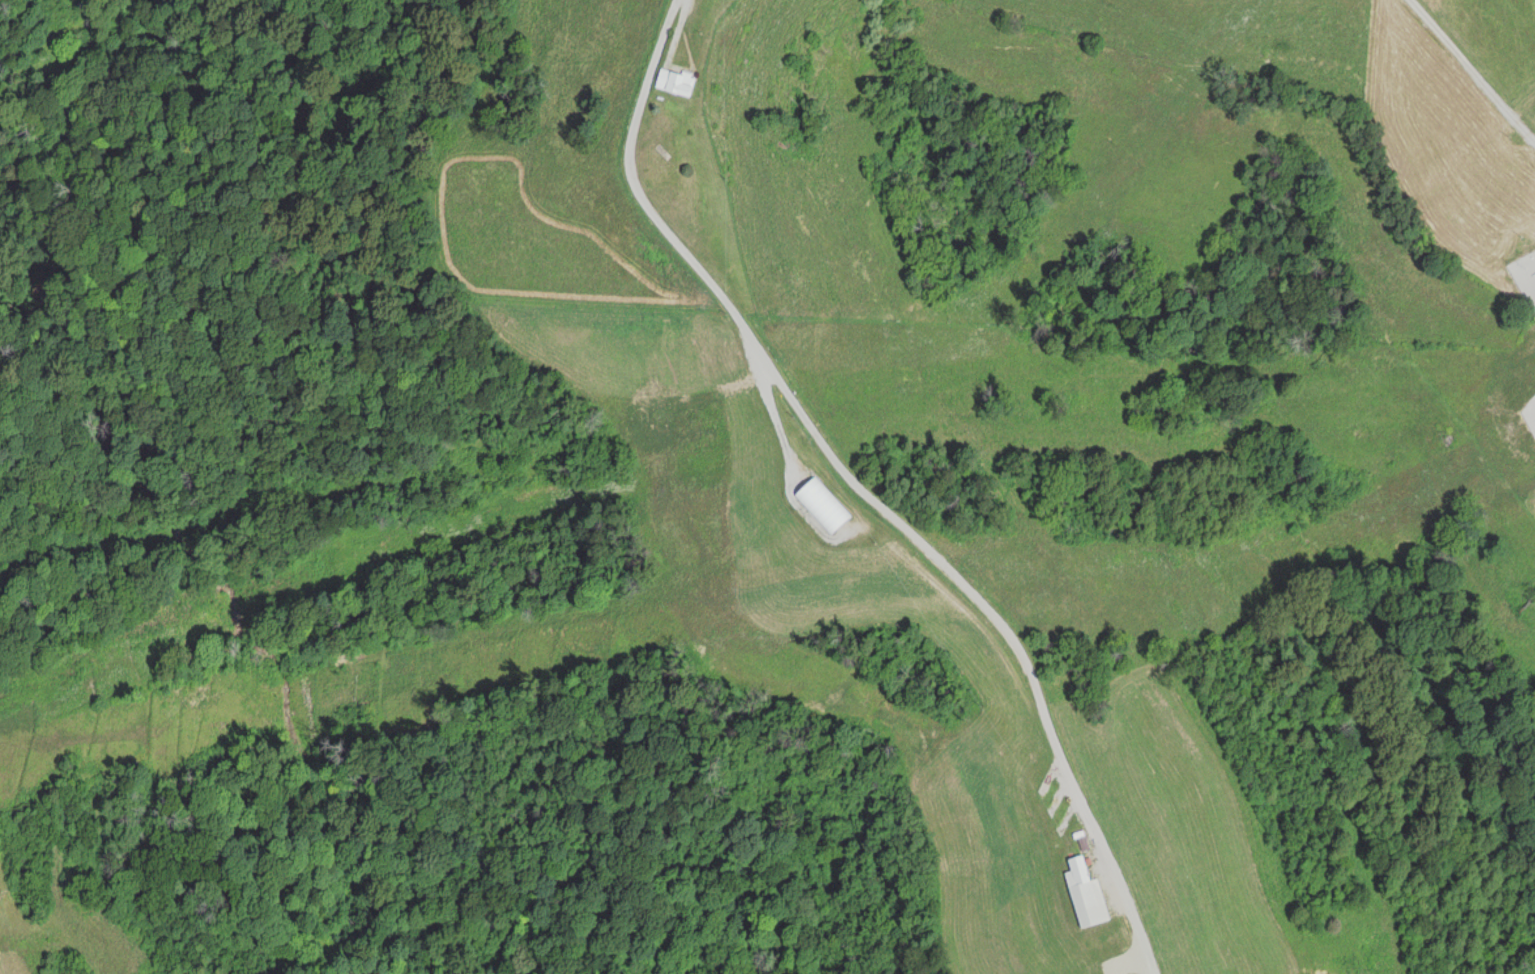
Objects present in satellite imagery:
road: (1469, 71)
building: (673, 85)
road: (862, 492)
building: (1085, 903)

